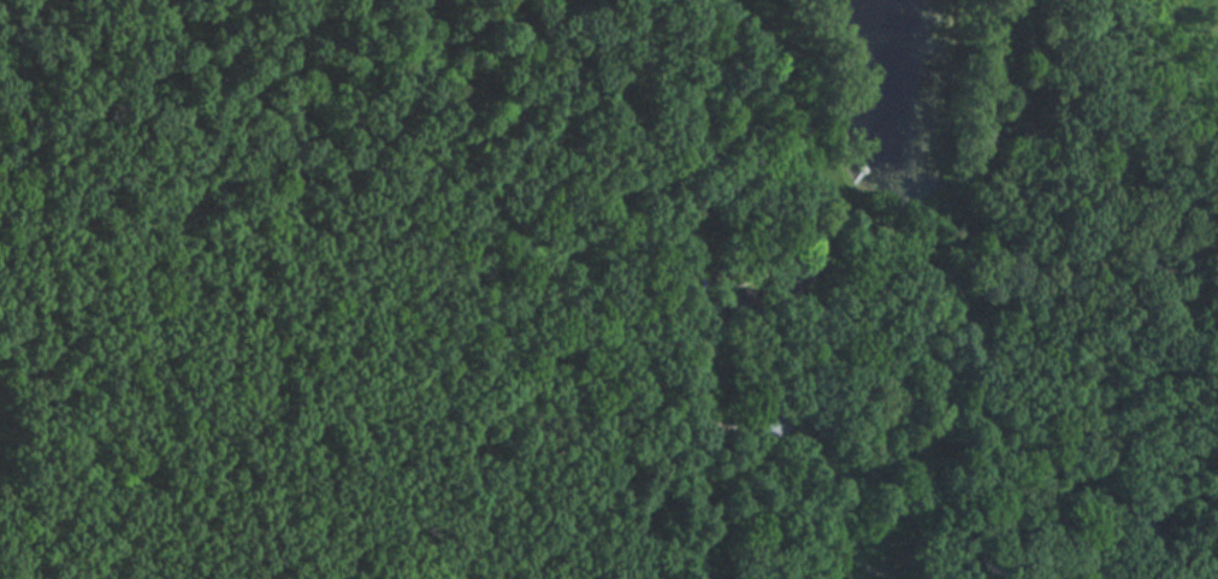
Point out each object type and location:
road: (700, 451)

